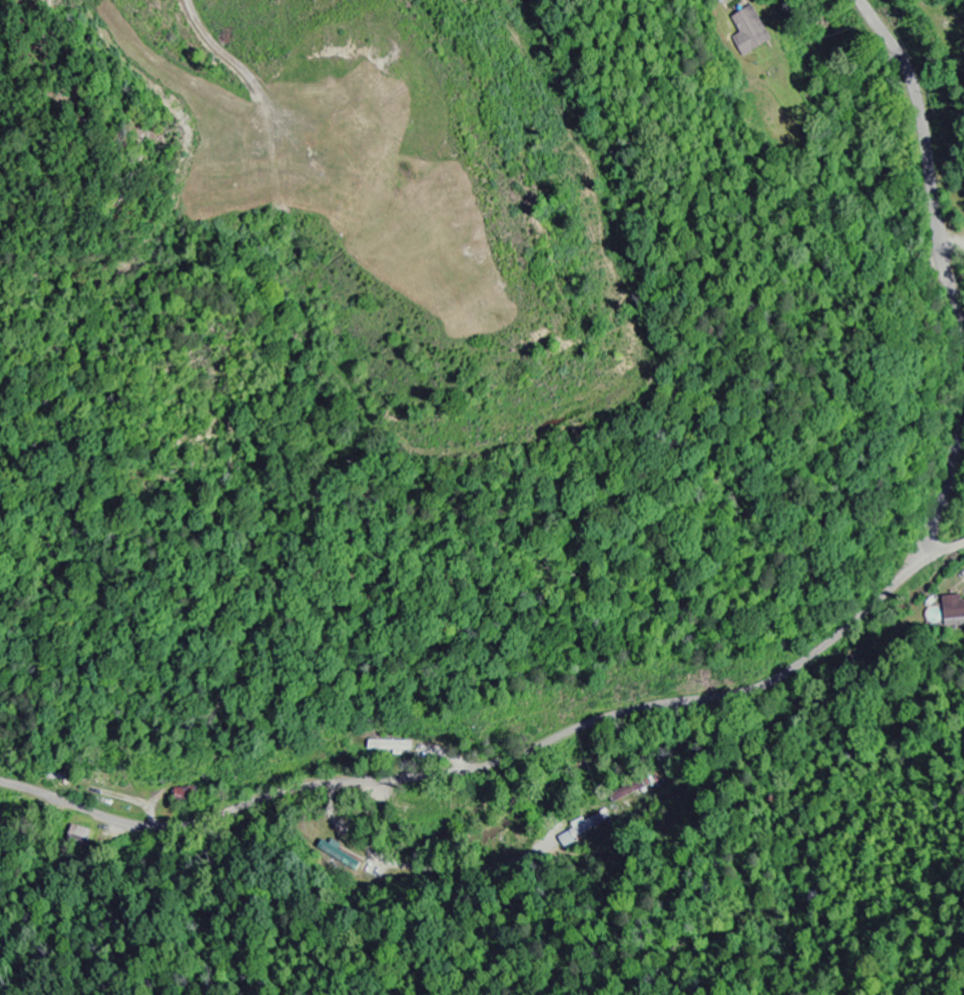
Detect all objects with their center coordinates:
building: (723, 1)
building: (748, 31)
road: (942, 276)
building: (953, 613)
road: (502, 761)
building: (336, 852)

